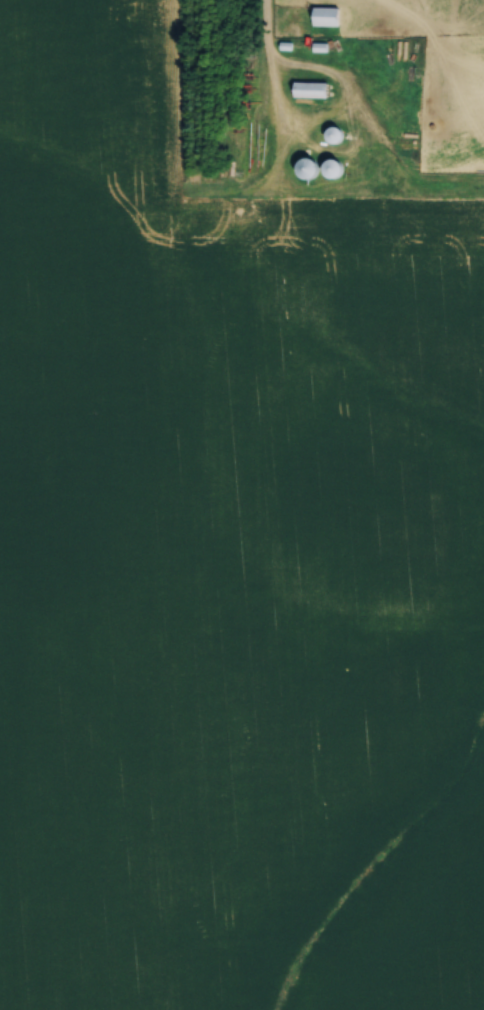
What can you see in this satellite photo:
building: (328, 14)
building: (313, 88)
building: (336, 133)
building: (309, 166)
building: (336, 166)

